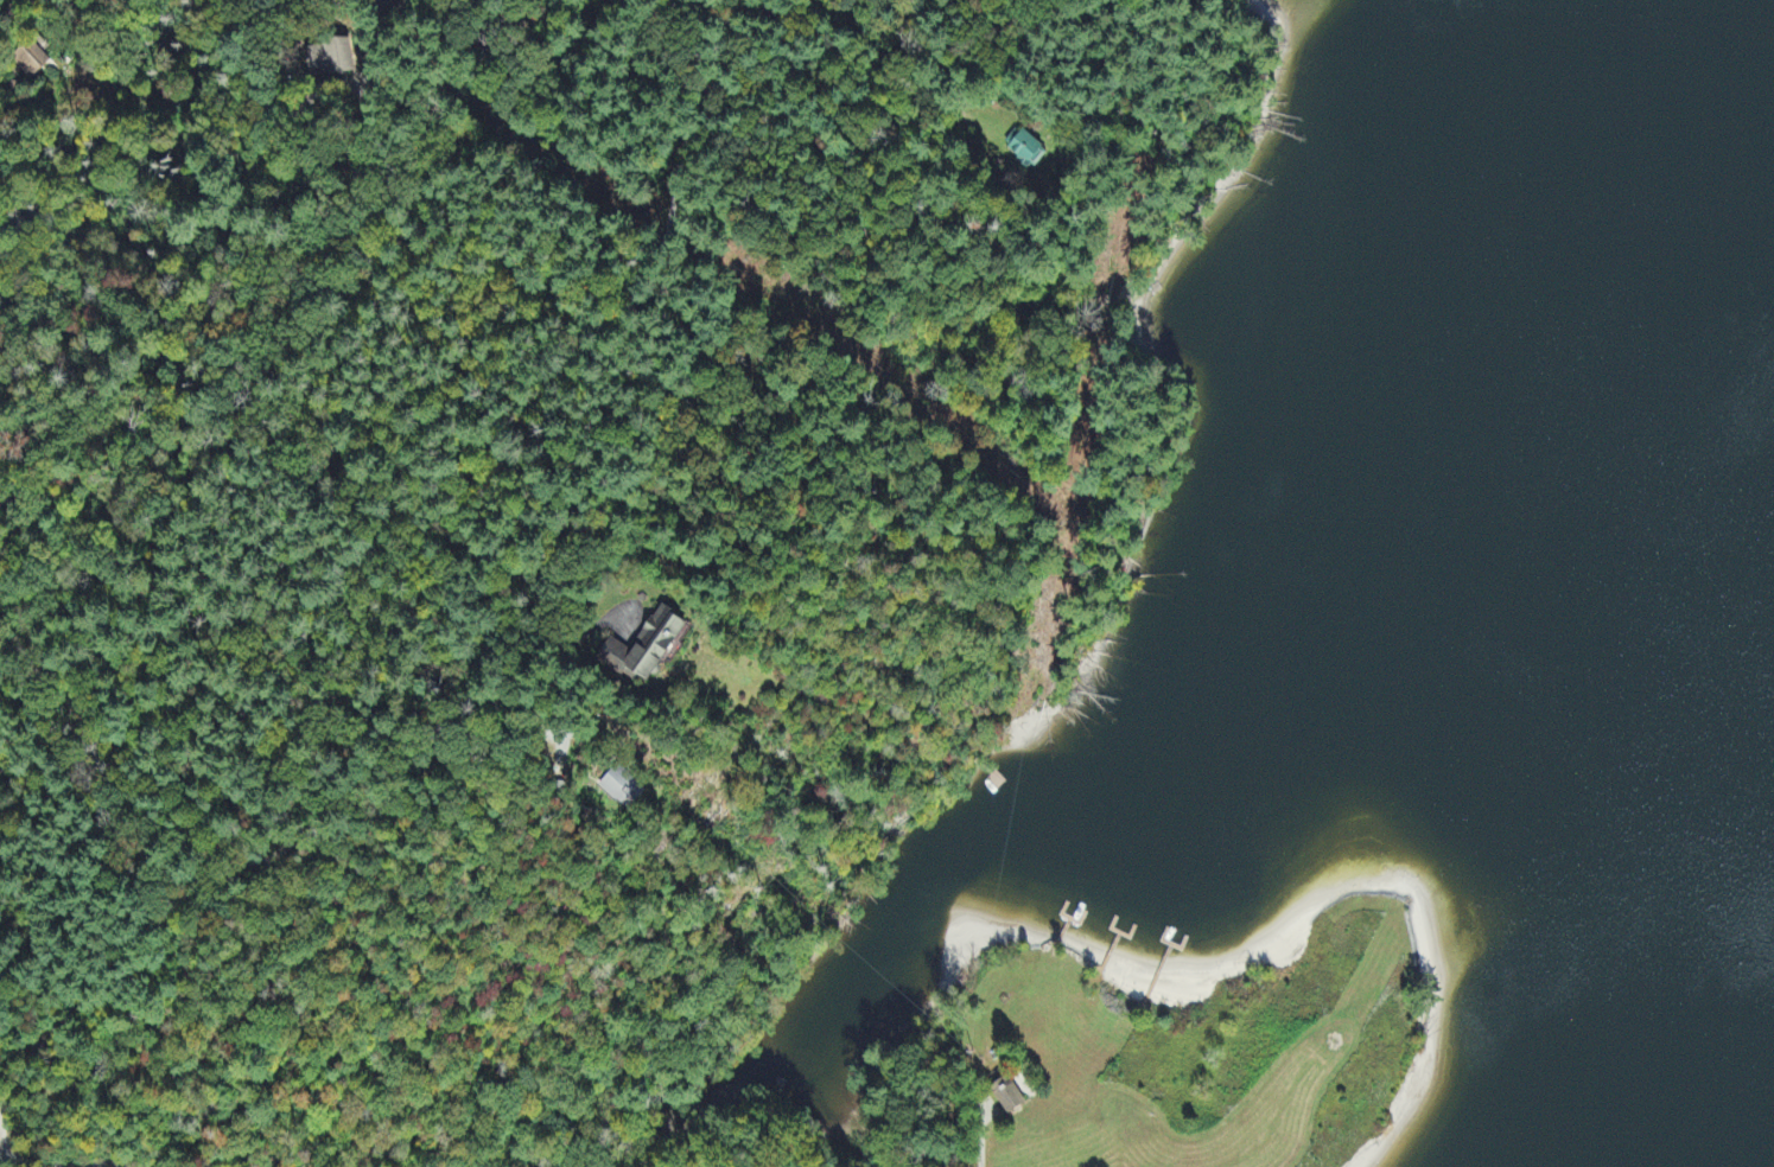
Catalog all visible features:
road: (851, 57)
building: (31, 58)
building: (331, 62)
building: (1024, 147)
road: (675, 210)
road: (403, 529)
building: (646, 648)
river: (1297, 695)
road: (431, 760)
building: (624, 790)
road: (307, 825)
building: (1009, 1097)
road: (27, 1163)
road: (104, 1165)

